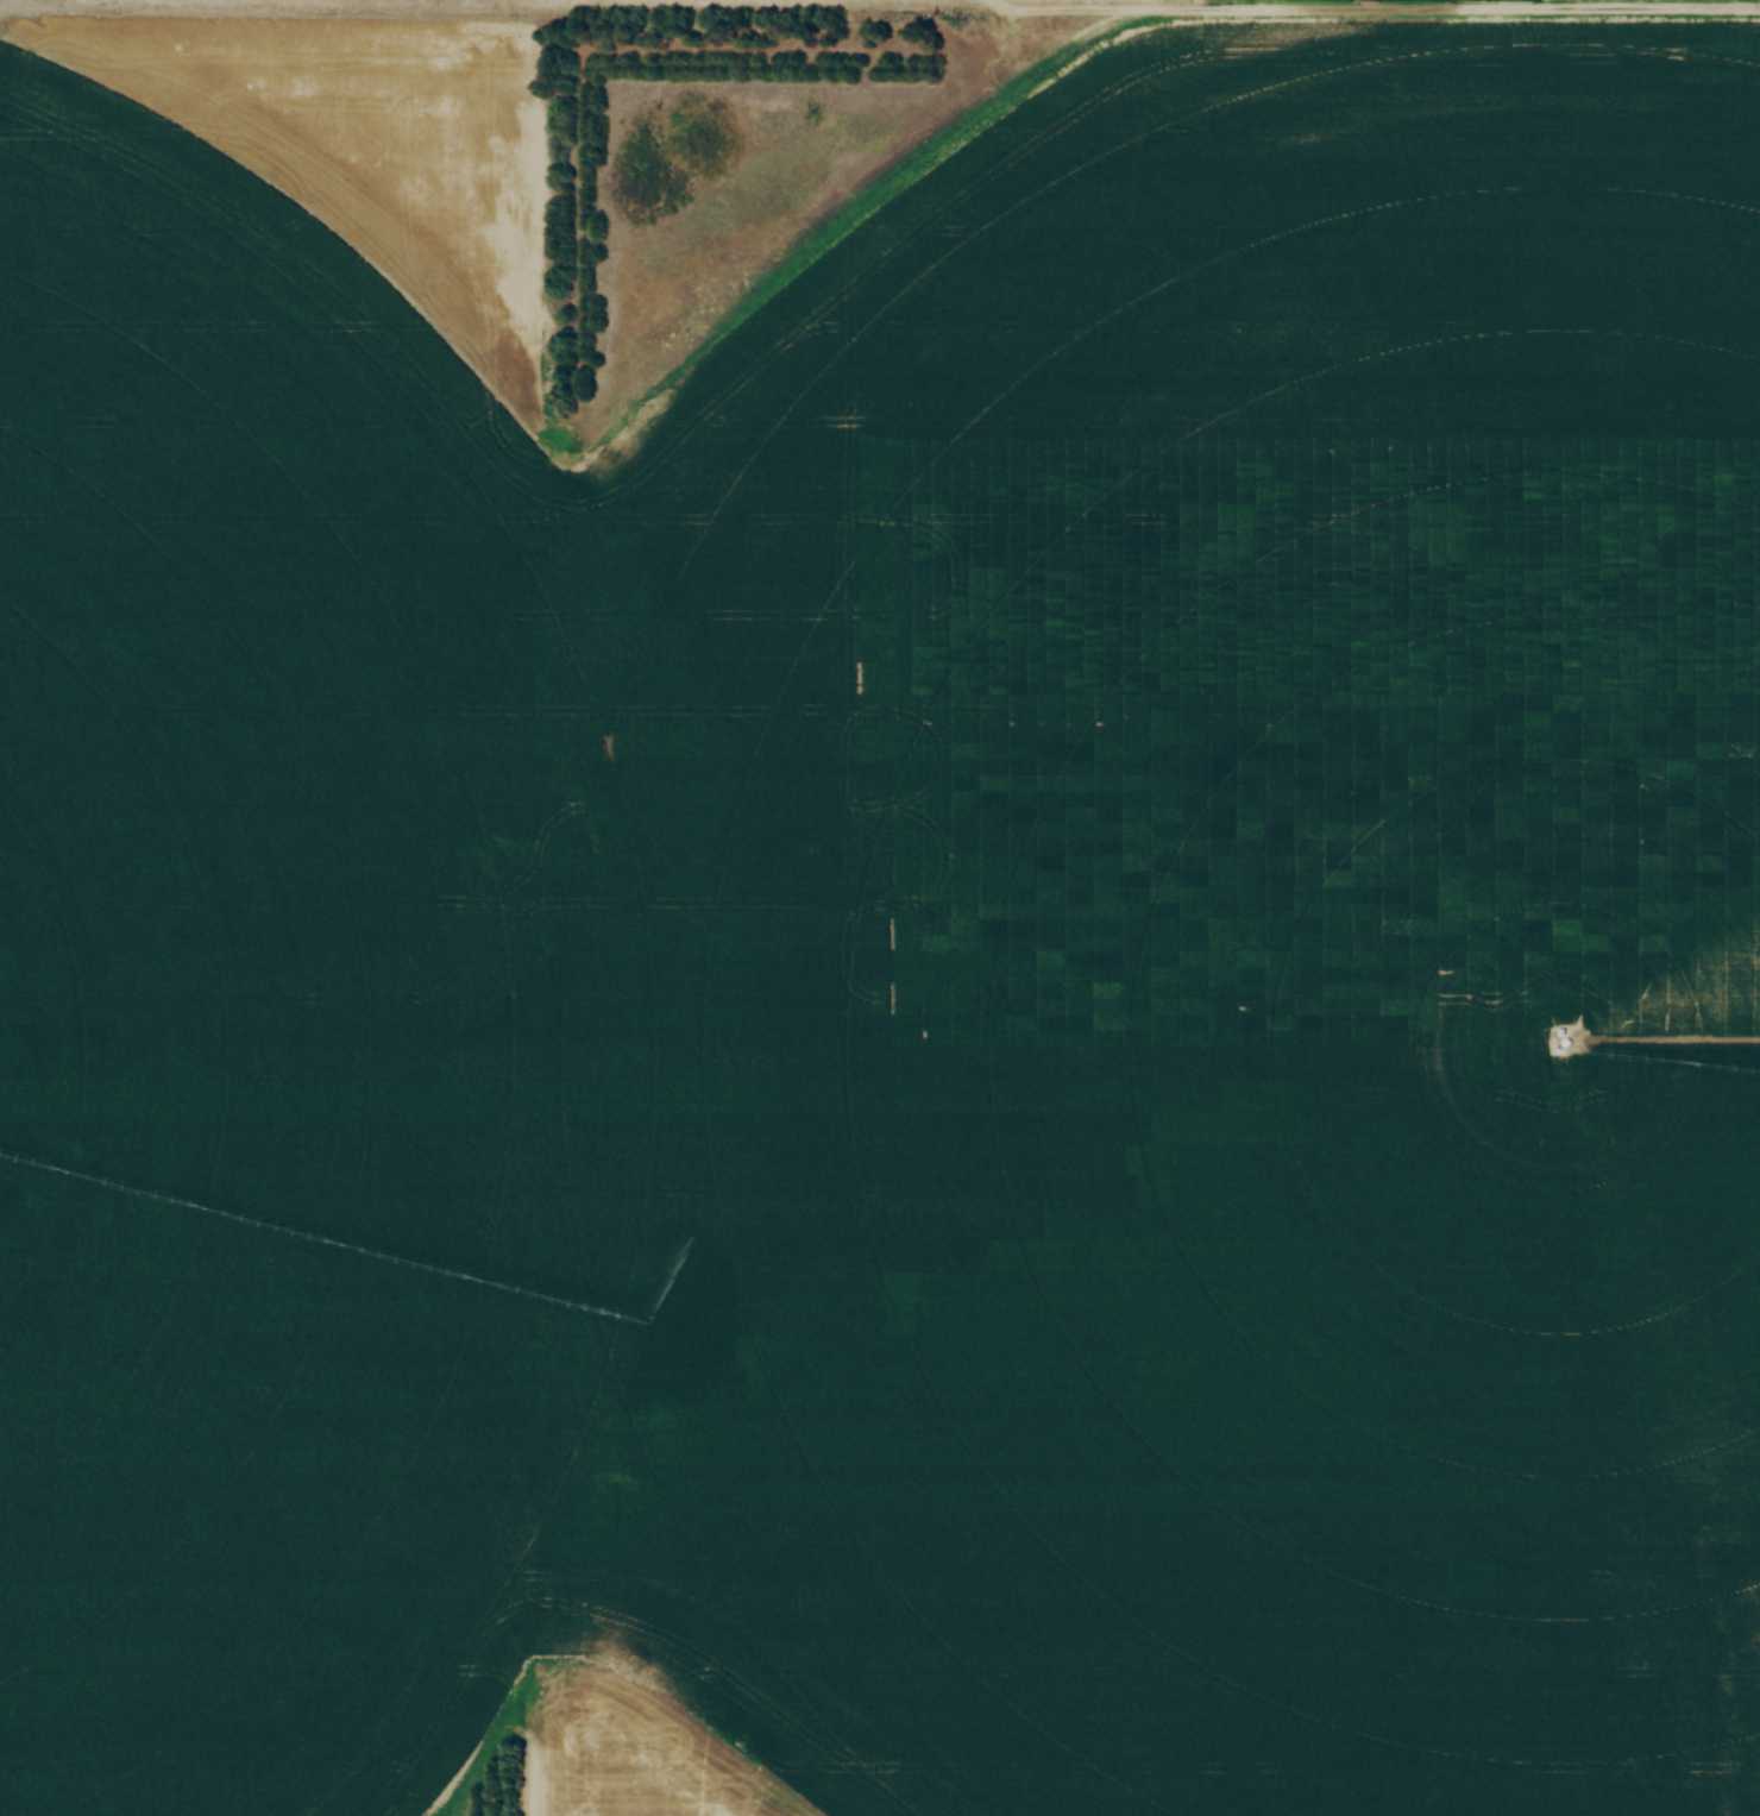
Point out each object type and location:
building: (1748, 1723)

